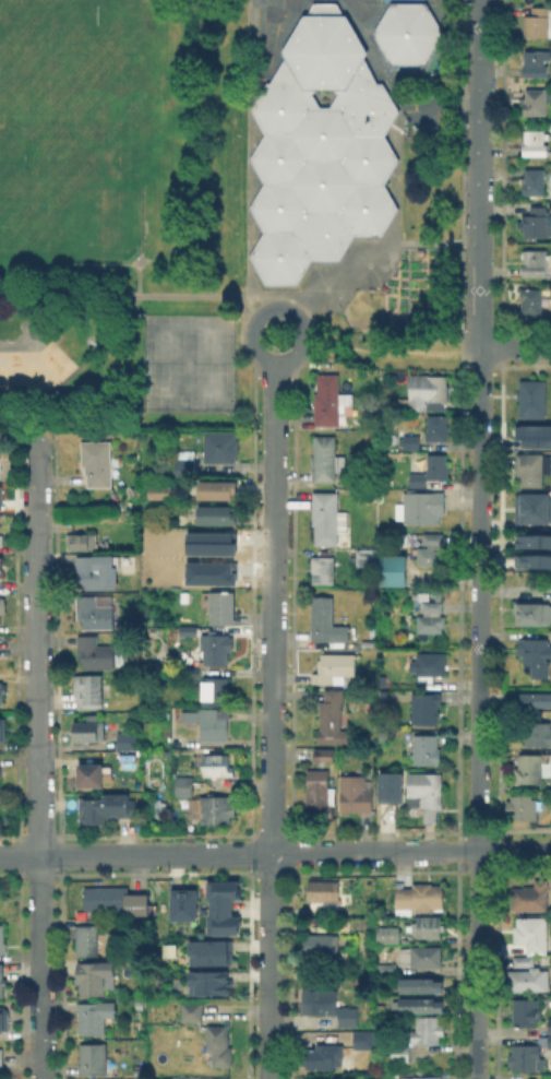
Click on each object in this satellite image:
building: (538, 22)
building: (410, 32)
park: (50, 43)
building: (537, 63)
building: (534, 100)
road: (446, 105)
building: (536, 142)
building: (322, 149)
road: (251, 150)
park: (24, 159)
park: (73, 166)
building: (536, 182)
park: (118, 216)
building: (536, 221)
building: (535, 262)
road: (133, 295)
building: (532, 301)
road: (279, 307)
road: (48, 334)
road: (515, 346)
road: (392, 351)
park: (165, 361)
park: (189, 361)
park: (207, 363)
road: (83, 364)
building: (430, 392)
building: (328, 399)
building: (534, 399)
building: (438, 427)
building: (531, 434)
building: (412, 441)
building: (220, 447)
building: (328, 461)
building: (98, 462)
building: (532, 467)
building: (187, 470)
building: (431, 470)
building: (161, 493)
building: (219, 493)
building: (532, 509)
building: (423, 510)
building: (219, 518)
building: (108, 519)
building: (328, 519)
building: (433, 538)
road: (480, 538)
building: (536, 541)
building: (82, 542)
building: (194, 544)
building: (0, 545)
building: (432, 556)
building: (367, 557)
building: (531, 562)
building: (157, 565)
building: (1, 567)
building: (325, 569)
building: (194, 572)
building: (98, 573)
building: (396, 573)
building: (423, 594)
building: (187, 596)
building: (223, 607)
building: (2, 609)
building: (95, 613)
building: (532, 613)
building: (432, 619)
building: (326, 620)
building: (189, 630)
building: (369, 643)
building: (218, 648)
building: (94, 653)
building: (536, 655)
building: (429, 664)
building: (335, 667)
building: (192, 673)
building: (91, 690)
building: (216, 690)
building: (2, 691)
building: (383, 692)
building: (537, 700)
building: (424, 708)
building: (332, 716)
road: (273, 719)
building: (208, 724)
building: (2, 730)
building: (89, 730)
building: (538, 734)
building: (129, 739)
building: (380, 740)
building: (423, 747)
building: (324, 754)
road: (38, 757)
building: (218, 767)
building: (529, 770)
building: (0, 772)
building: (92, 775)
building: (184, 785)
building: (424, 792)
building: (319, 793)
building: (356, 793)
building: (386, 794)
building: (523, 806)
building: (110, 809)
building: (214, 809)
road: (275, 852)
building: (324, 890)
building: (220, 892)
building: (113, 898)
building: (531, 898)
building: (418, 899)
building: (185, 902)
building: (220, 921)
building: (428, 928)
building: (531, 933)
building: (387, 935)
building: (1, 937)
building: (87, 939)
building: (322, 945)
building: (202, 956)
building: (421, 956)
building: (522, 961)
building: (386, 968)
building: (95, 975)
building: (2, 981)
building: (529, 981)
building: (202, 984)
building: (421, 985)
building: (327, 1005)
building: (421, 1005)
building: (191, 1011)
building: (526, 1013)
building: (94, 1016)
building: (3, 1018)
building: (550, 1025)
building: (428, 1030)
building: (363, 1039)
building: (549, 1041)
building: (217, 1046)
building: (400, 1054)
building: (325, 1056)
building: (1, 1057)
building: (93, 1058)
building: (528, 1059)
building: (547, 1076)
building: (422, 1077)
building: (330, 1078)

